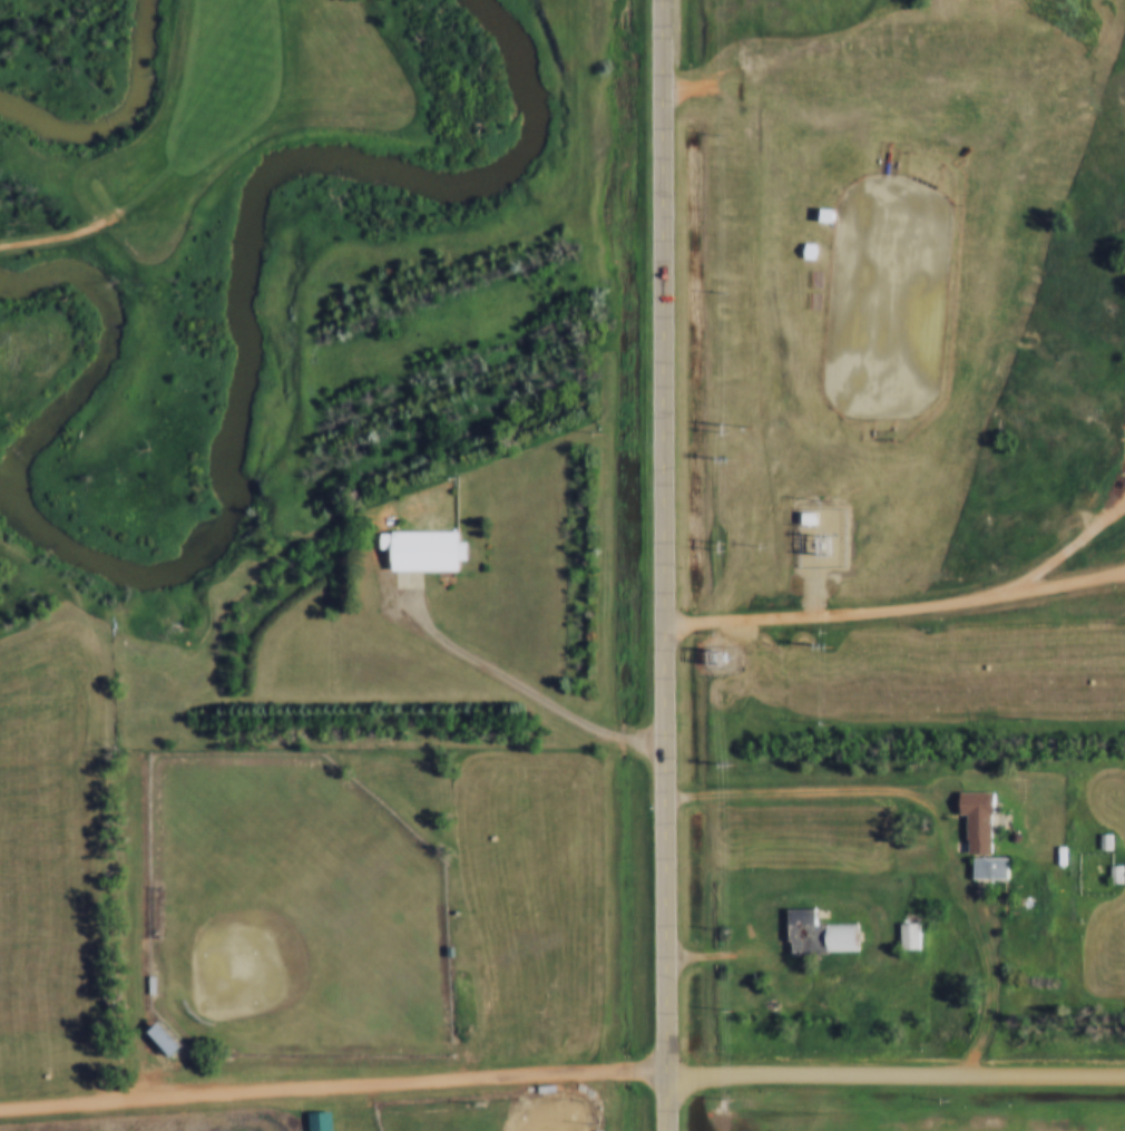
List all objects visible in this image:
road: (1098, 32)
road: (782, 50)
park: (117, 149)
building: (813, 208)
building: (826, 214)
building: (799, 246)
building: (810, 251)
park: (873, 291)
road: (473, 368)
building: (809, 517)
power substation: (810, 532)
building: (415, 547)
road: (1069, 548)
road: (662, 565)
road: (893, 608)
power substation: (707, 652)
road: (522, 686)
road: (936, 811)
building: (969, 819)
building: (1096, 839)
building: (1051, 854)
building: (981, 867)
building: (1107, 872)
park: (281, 906)
building: (799, 932)
building: (901, 935)
building: (834, 937)
building: (157, 1037)
road: (896, 1075)
road: (333, 1084)
park: (479, 1112)
building: (311, 1120)

